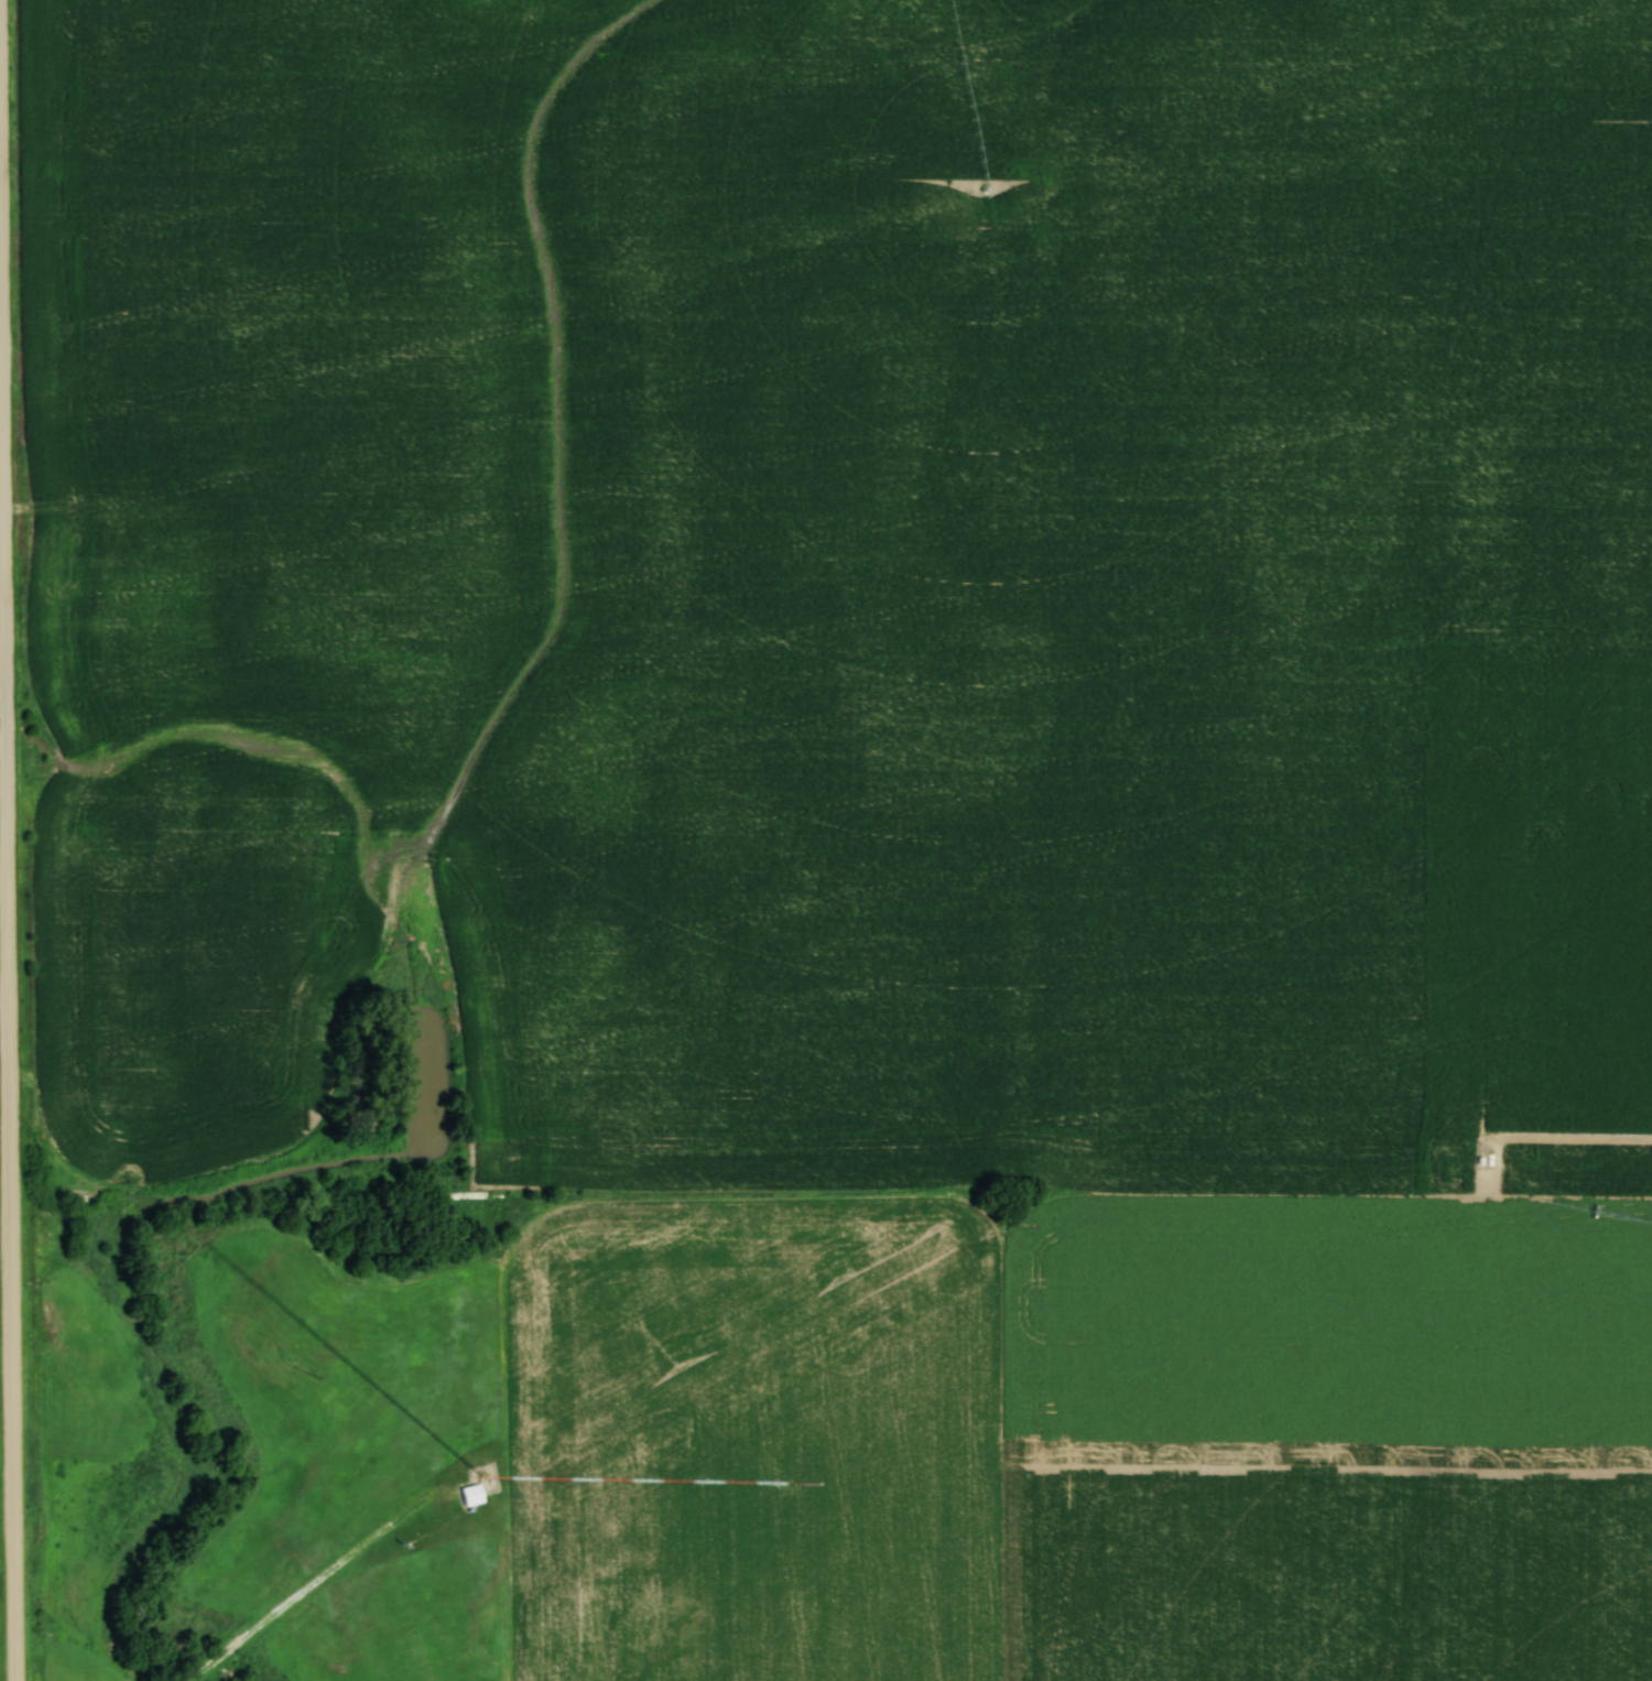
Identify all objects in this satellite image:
road: (7, 961)
building: (469, 1495)

